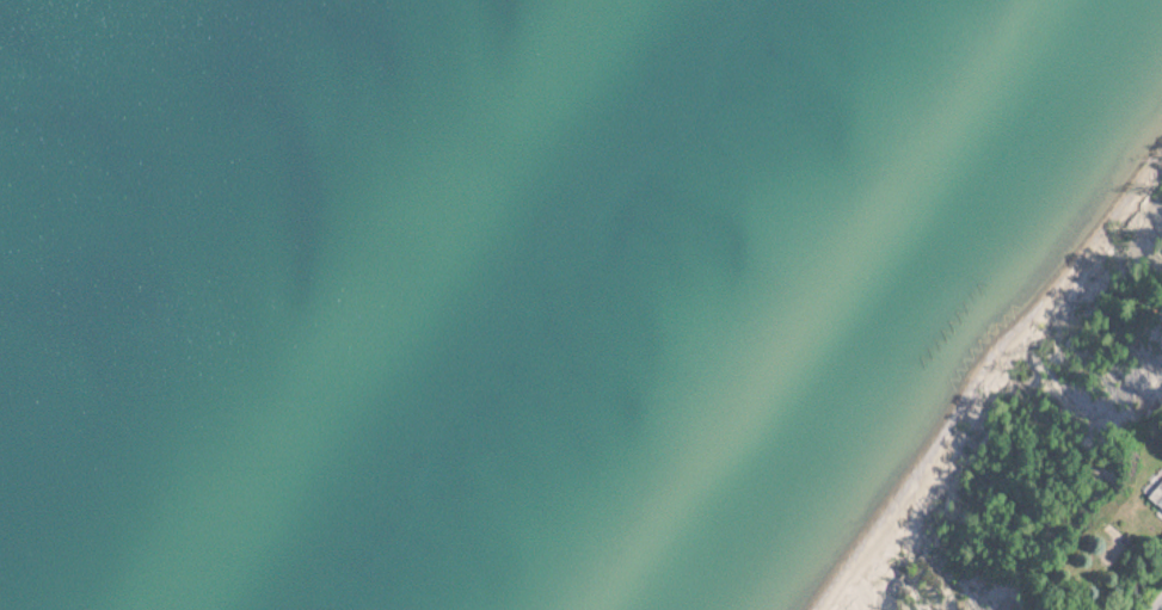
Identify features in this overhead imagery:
building: (1157, 497)
road: (1158, 605)

